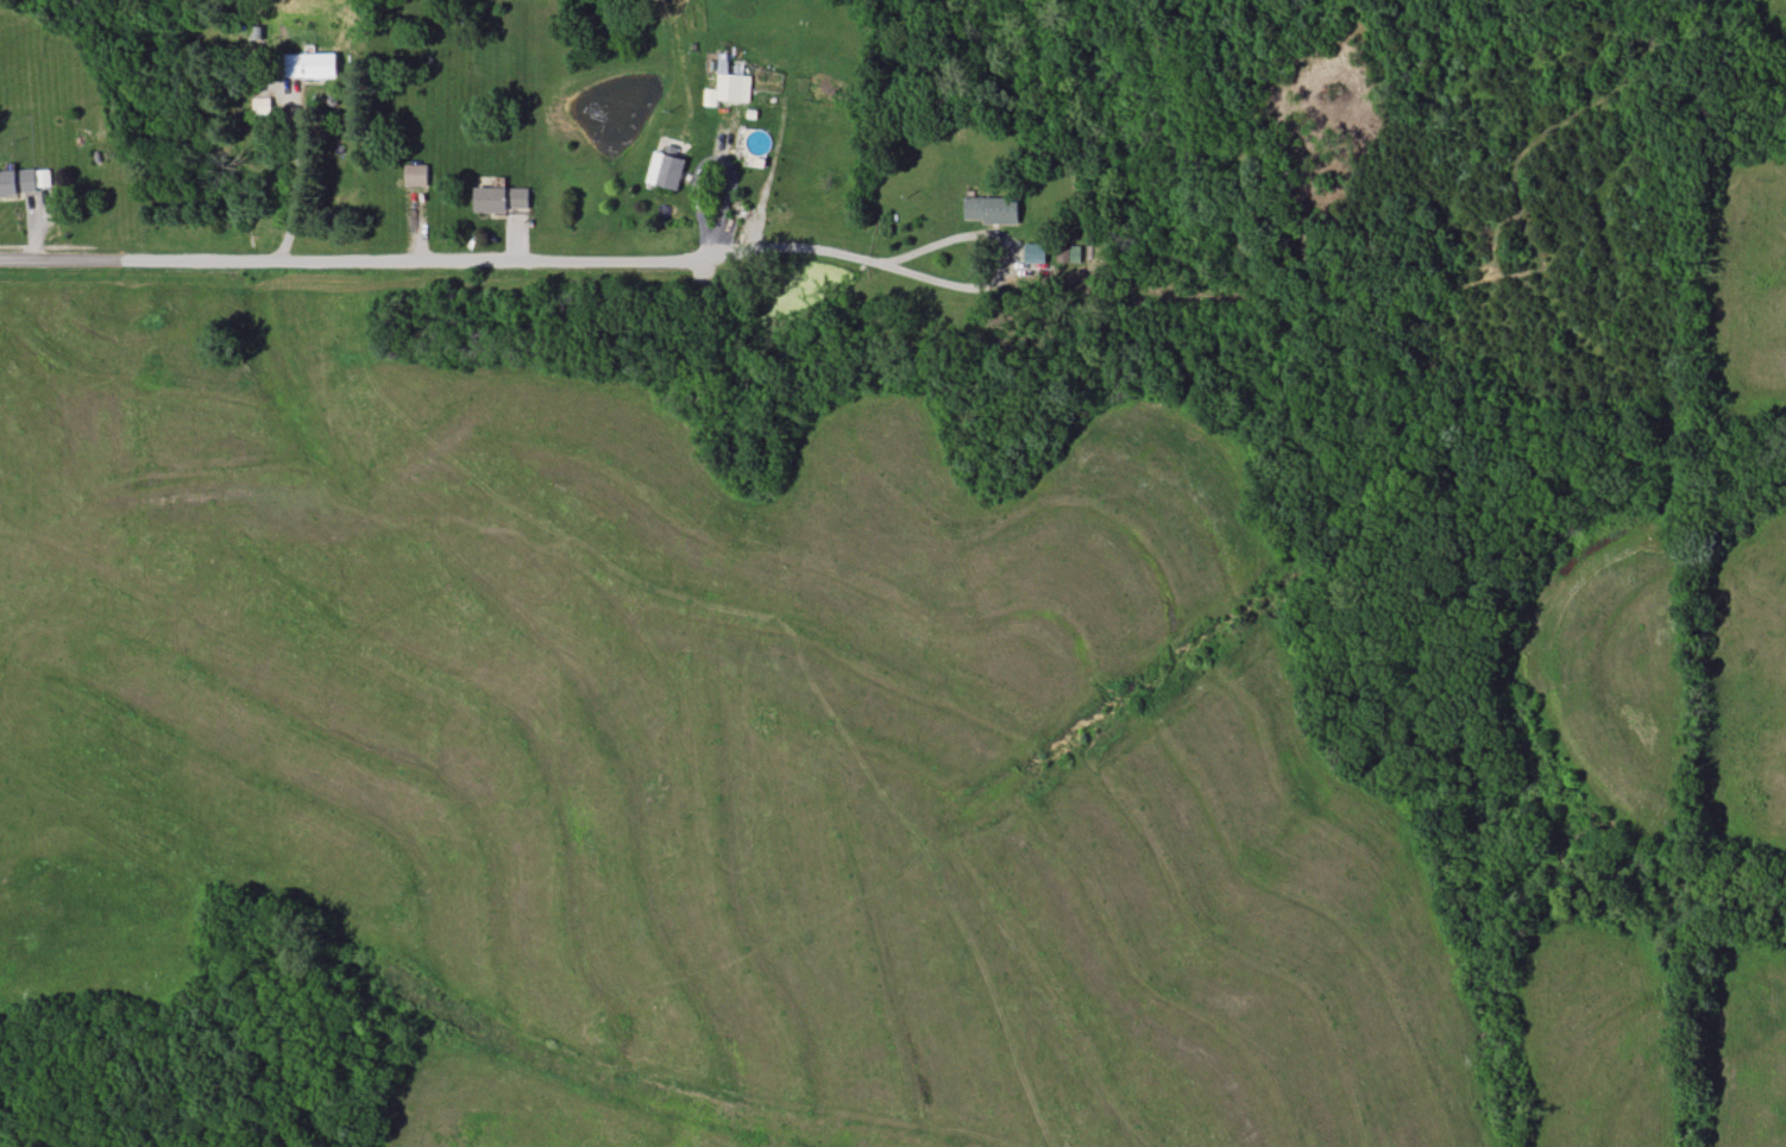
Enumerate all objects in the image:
building: (308, 65)
building: (729, 84)
road: (589, 100)
building: (669, 168)
road: (300, 172)
building: (416, 175)
building: (24, 181)
building: (502, 198)
building: (1000, 210)
building: (728, 226)
road: (943, 238)
building: (1062, 256)
road: (445, 261)

